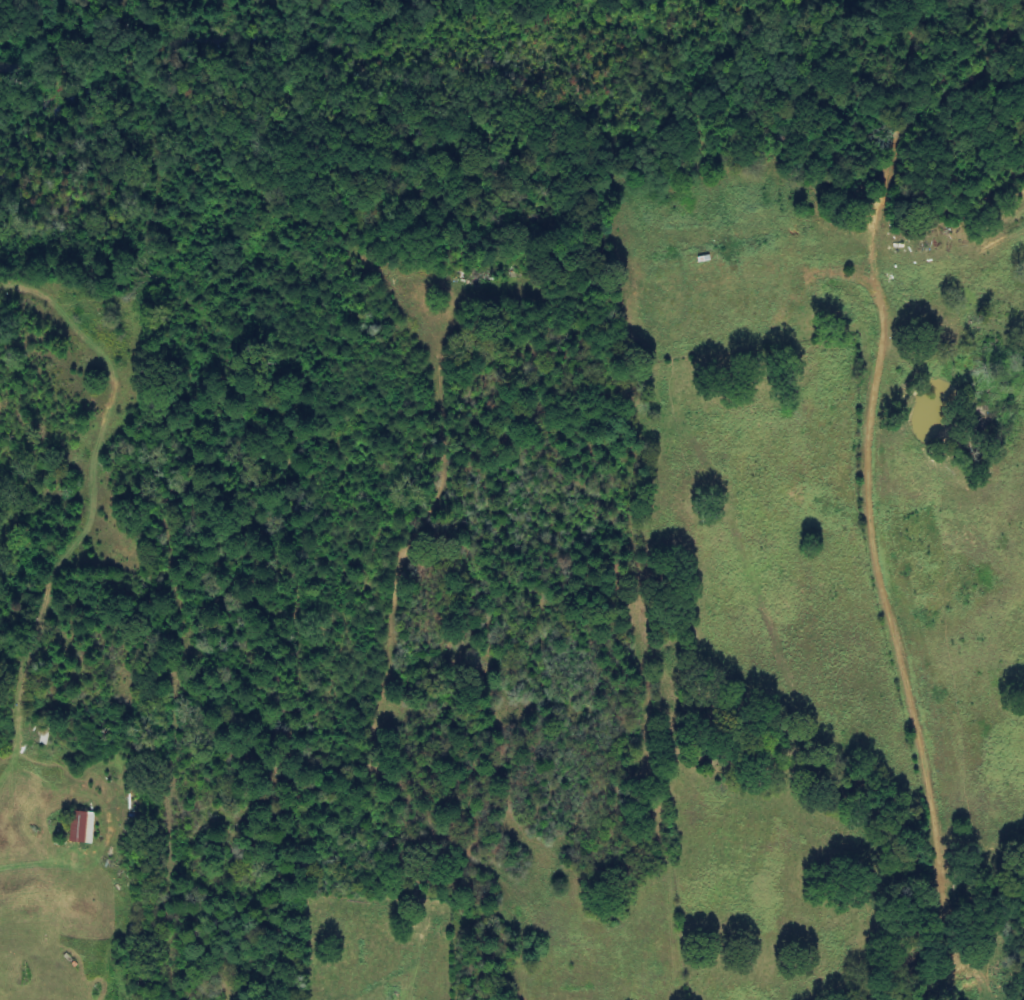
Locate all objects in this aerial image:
building: (80, 828)

